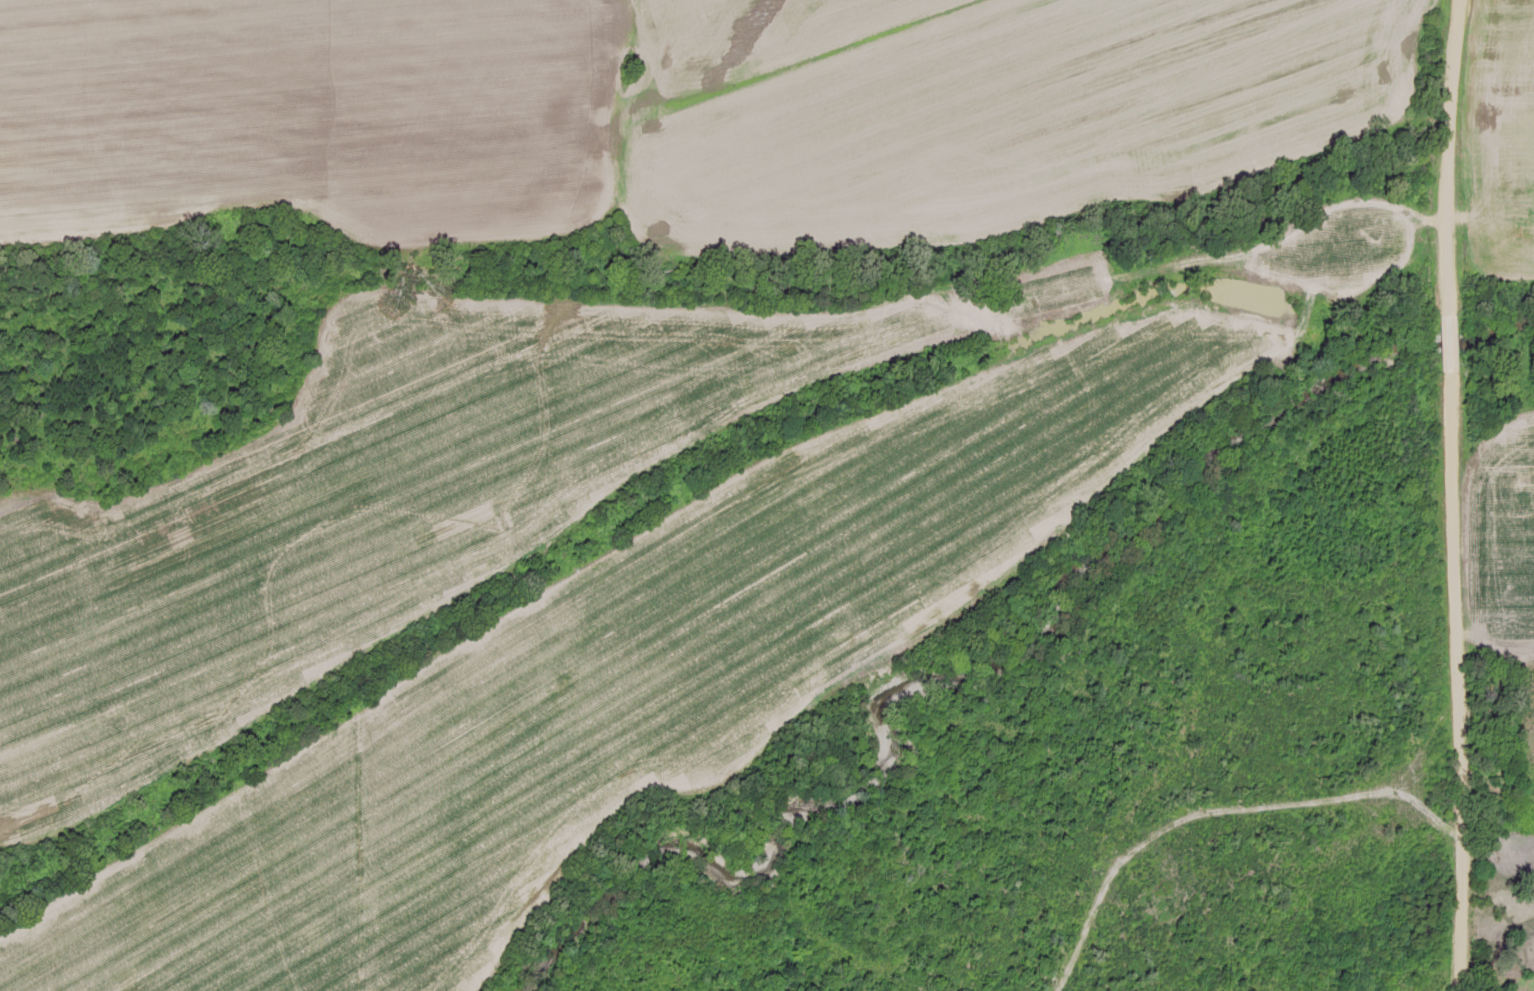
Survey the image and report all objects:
road: (1445, 158)
road: (1442, 349)
road: (1448, 686)

